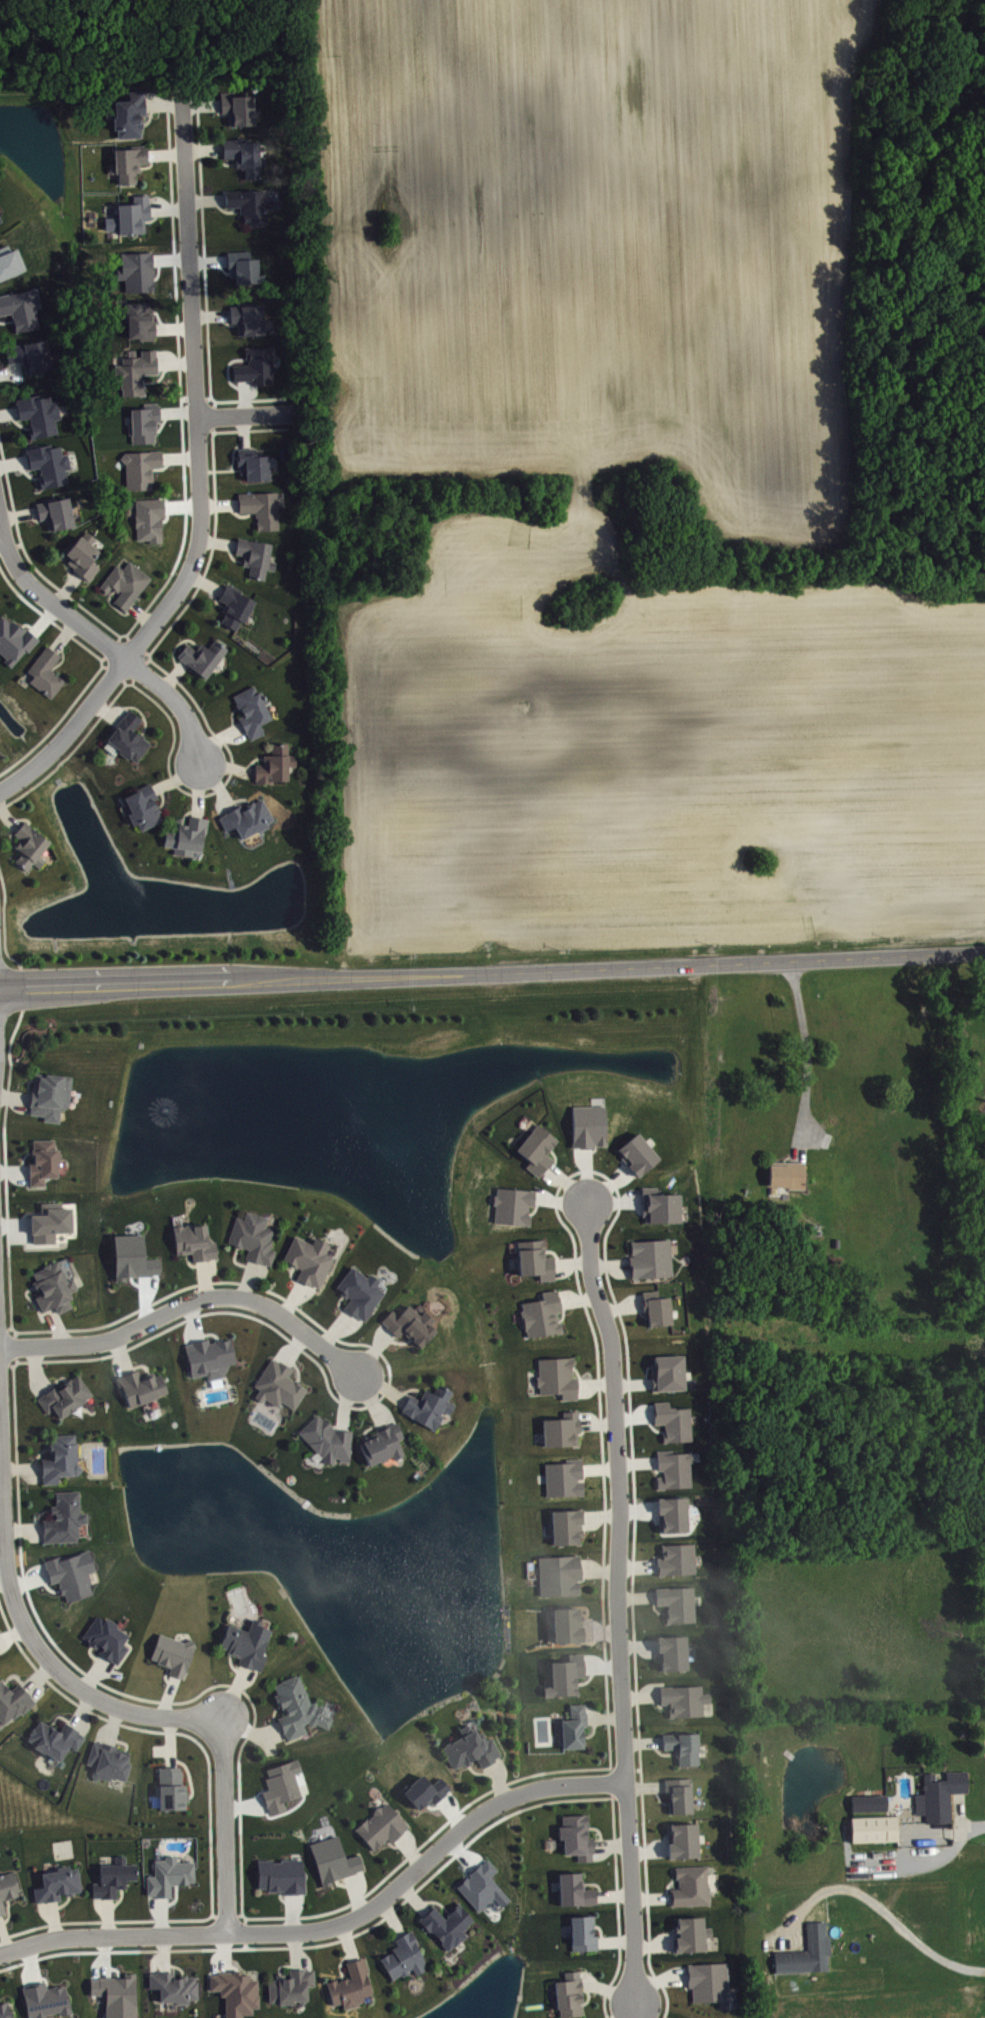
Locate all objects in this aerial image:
road: (163, 102)
road: (200, 104)
building: (236, 106)
road: (216, 112)
building: (129, 114)
road: (149, 114)
road: (202, 148)
road: (165, 153)
building: (244, 155)
road: (219, 160)
building: (128, 161)
road: (198, 163)
road: (149, 164)
road: (169, 164)
road: (205, 199)
building: (250, 203)
road: (167, 209)
road: (223, 209)
building: (133, 214)
road: (152, 216)
building: (1, 221)
crop: (595, 247)
building: (11, 265)
building: (245, 269)
building: (20, 307)
road: (211, 314)
building: (246, 317)
road: (157, 318)
building: (139, 319)
road: (5, 320)
road: (226, 321)
road: (173, 328)
building: (29, 354)
road: (176, 361)
road: (18, 362)
building: (254, 365)
road: (178, 369)
building: (135, 370)
road: (226, 370)
road: (11, 371)
road: (159, 377)
road: (209, 383)
road: (196, 387)
road: (242, 396)
road: (195, 397)
road: (8, 410)
road: (177, 411)
road: (245, 412)
building: (38, 413)
road: (211, 416)
road: (162, 420)
building: (144, 421)
road: (243, 430)
road: (232, 451)
road: (13, 461)
building: (47, 463)
building: (251, 463)
building: (139, 467)
road: (218, 469)
road: (26, 472)
road: (219, 503)
building: (260, 507)
building: (54, 512)
road: (17, 514)
road: (215, 514)
road: (238, 514)
road: (35, 518)
building: (152, 521)
road: (1, 532)
road: (216, 541)
road: (10, 547)
building: (83, 555)
road: (231, 555)
building: (254, 556)
road: (28, 558)
road: (68, 571)
road: (8, 580)
building: (124, 582)
road: (204, 582)
road: (65, 588)
road: (214, 598)
road: (50, 600)
building: (233, 605)
road: (115, 606)
road: (147, 606)
road: (141, 612)
road: (63, 634)
road: (77, 640)
building: (15, 642)
road: (176, 644)
road: (135, 645)
road: (112, 648)
building: (201, 656)
road: (62, 657)
road: (138, 669)
road: (115, 670)
building: (45, 671)
road: (173, 674)
road: (177, 701)
road: (136, 707)
road: (105, 709)
building: (251, 710)
road: (232, 717)
road: (58, 721)
road: (68, 729)
building: (128, 736)
road: (215, 739)
road: (72, 750)
crop: (650, 752)
road: (251, 760)
building: (274, 763)
road: (227, 765)
road: (176, 777)
road: (217, 783)
road: (219, 787)
road: (197, 789)
road: (162, 796)
road: (238, 798)
building: (142, 806)
road: (185, 812)
road: (7, 816)
building: (246, 817)
road: (10, 832)
building: (186, 835)
building: (29, 845)
road: (4, 932)
road: (492, 972)
road: (807, 1060)
road: (27, 1085)
building: (49, 1094)
road: (14, 1095)
building: (587, 1125)
building: (535, 1148)
building: (636, 1153)
road: (23, 1157)
road: (554, 1158)
building: (42, 1160)
road: (13, 1169)
building: (786, 1173)
road: (602, 1174)
road: (586, 1175)
road: (566, 1183)
road: (609, 1185)
road: (615, 1199)
road: (561, 1200)
building: (512, 1204)
building: (658, 1205)
road: (535, 1206)
building: (50, 1221)
road: (15, 1223)
building: (251, 1236)
building: (193, 1241)
road: (553, 1252)
building: (132, 1256)
road: (624, 1257)
building: (649, 1258)
building: (308, 1259)
building: (533, 1259)
road: (234, 1261)
road: (570, 1261)
road: (189, 1263)
road: (609, 1264)
road: (291, 1277)
road: (203, 1278)
road: (246, 1279)
road: (9, 1281)
building: (52, 1287)
building: (358, 1291)
road: (143, 1298)
road: (291, 1298)
road: (576, 1298)
road: (188, 1301)
road: (36, 1304)
road: (337, 1305)
road: (621, 1306)
building: (654, 1307)
road: (638, 1309)
road: (563, 1312)
building: (540, 1313)
road: (588, 1317)
road: (257, 1318)
road: (193, 1320)
building: (408, 1323)
road: (57, 1325)
road: (334, 1328)
road: (5, 1330)
road: (207, 1332)
road: (396, 1342)
road: (14, 1345)
road: (293, 1347)
road: (372, 1351)
road: (120, 1354)
building: (208, 1356)
road: (6, 1363)
road: (138, 1364)
road: (295, 1367)
road: (35, 1368)
building: (666, 1372)
road: (577, 1373)
road: (644, 1373)
building: (555, 1376)
road: (627, 1378)
road: (54, 1380)
road: (594, 1383)
road: (631, 1383)
building: (277, 1384)
building: (139, 1385)
road: (382, 1387)
road: (408, 1388)
building: (64, 1395)
road: (370, 1400)
road: (345, 1401)
building: (427, 1405)
road: (633, 1415)
building: (671, 1421)
road: (595, 1423)
road: (336, 1425)
road: (369, 1427)
road: (649, 1427)
building: (559, 1429)
road: (581, 1430)
building: (326, 1439)
building: (380, 1443)
road: (37, 1454)
building: (59, 1458)
road: (636, 1461)
road: (21, 1467)
road: (598, 1467)
road: (654, 1468)
building: (672, 1469)
road: (1, 1473)
road: (582, 1476)
building: (562, 1477)
road: (637, 1506)
road: (38, 1513)
road: (600, 1514)
building: (671, 1514)
building: (63, 1517)
road: (585, 1524)
building: (565, 1525)
road: (23, 1526)
road: (2, 1536)
road: (652, 1556)
building: (675, 1559)
road: (636, 1565)
road: (598, 1570)
building: (557, 1574)
building: (74, 1577)
road: (583, 1578)
road: (3, 1579)
road: (632, 1584)
road: (635, 1596)
road: (617, 1600)
building: (676, 1602)
road: (655, 1608)
road: (603, 1609)
building: (566, 1624)
road: (12, 1631)
road: (28, 1631)
road: (599, 1631)
building: (105, 1637)
building: (245, 1642)
road: (638, 1645)
road: (653, 1652)
building: (671, 1652)
building: (172, 1653)
road: (91, 1655)
road: (231, 1664)
road: (601, 1666)
road: (93, 1672)
building: (564, 1674)
road: (14, 1676)
road: (39, 1676)
road: (164, 1676)
road: (587, 1679)
road: (232, 1691)
road: (167, 1695)
road: (640, 1695)
road: (637, 1699)
building: (683, 1699)
building: (13, 1700)
road: (180, 1701)
road: (658, 1704)
building: (296, 1707)
road: (81, 1709)
road: (60, 1715)
road: (272, 1715)
road: (604, 1717)
road: (112, 1725)
building: (572, 1726)
road: (163, 1731)
road: (249, 1731)
road: (593, 1731)
building: (53, 1738)
road: (121, 1740)
road: (169, 1741)
road: (643, 1742)
building: (682, 1746)
building: (470, 1748)
road: (661, 1752)
building: (106, 1760)
road: (626, 1768)
road: (478, 1772)
road: (537, 1772)
road: (187, 1773)
road: (498, 1781)
road: (611, 1781)
building: (280, 1784)
road: (645, 1786)
building: (170, 1788)
building: (428, 1793)
building: (677, 1794)
building: (939, 1794)
road: (658, 1796)
road: (619, 1797)
building: (868, 1803)
road: (974, 1823)
road: (223, 1825)
building: (380, 1825)
building: (873, 1828)
road: (598, 1829)
building: (575, 1836)
building: (682, 1840)
road: (610, 1843)
road: (393, 1845)
road: (410, 1849)
road: (407, 1856)
road: (615, 1856)
building: (332, 1860)
building: (168, 1875)
building: (280, 1875)
building: (112, 1876)
building: (56, 1883)
road: (342, 1883)
road: (596, 1883)
road: (667, 1884)
building: (690, 1885)
building: (7, 1887)
building: (485, 1889)
building: (572, 1889)
road: (355, 1894)
road: (613, 1894)
road: (647, 1895)
road: (412, 1896)
road: (174, 1897)
road: (651, 1897)
road: (281, 1898)
road: (117, 1899)
road: (434, 1900)
road: (62, 1903)
road: (240, 1908)
road: (881, 1909)
road: (291, 1911)
road: (8, 1912)
road: (161, 1914)
road: (108, 1915)
road: (390, 1917)
road: (53, 1919)
road: (101, 1920)
road: (333, 1924)
building: (446, 1924)
road: (601, 1930)
building: (581, 1932)
building: (690, 1933)
road: (391, 1935)
road: (669, 1935)
road: (3, 1940)
road: (347, 1940)
road: (615, 1941)
road: (654, 1944)
road: (300, 1946)
road: (294, 1949)
building: (806, 1951)
road: (164, 1952)
building: (402, 1956)
road: (339, 1962)
road: (32, 1963)
road: (15, 1964)
road: (283, 1964)
road: (175, 1965)
road: (656, 1979)
building: (707, 1981)
road: (683, 1983)
building: (350, 1984)
building: (289, 1985)
building: (173, 1986)
road: (609, 1989)
building: (235, 1991)
building: (568, 1993)
building: (116, 1995)
road: (587, 1997)
building: (44, 2000)
building: (5, 2010)
road: (625, 2010)
road: (633, 2010)
road: (641, 2010)
road: (663, 2017)

